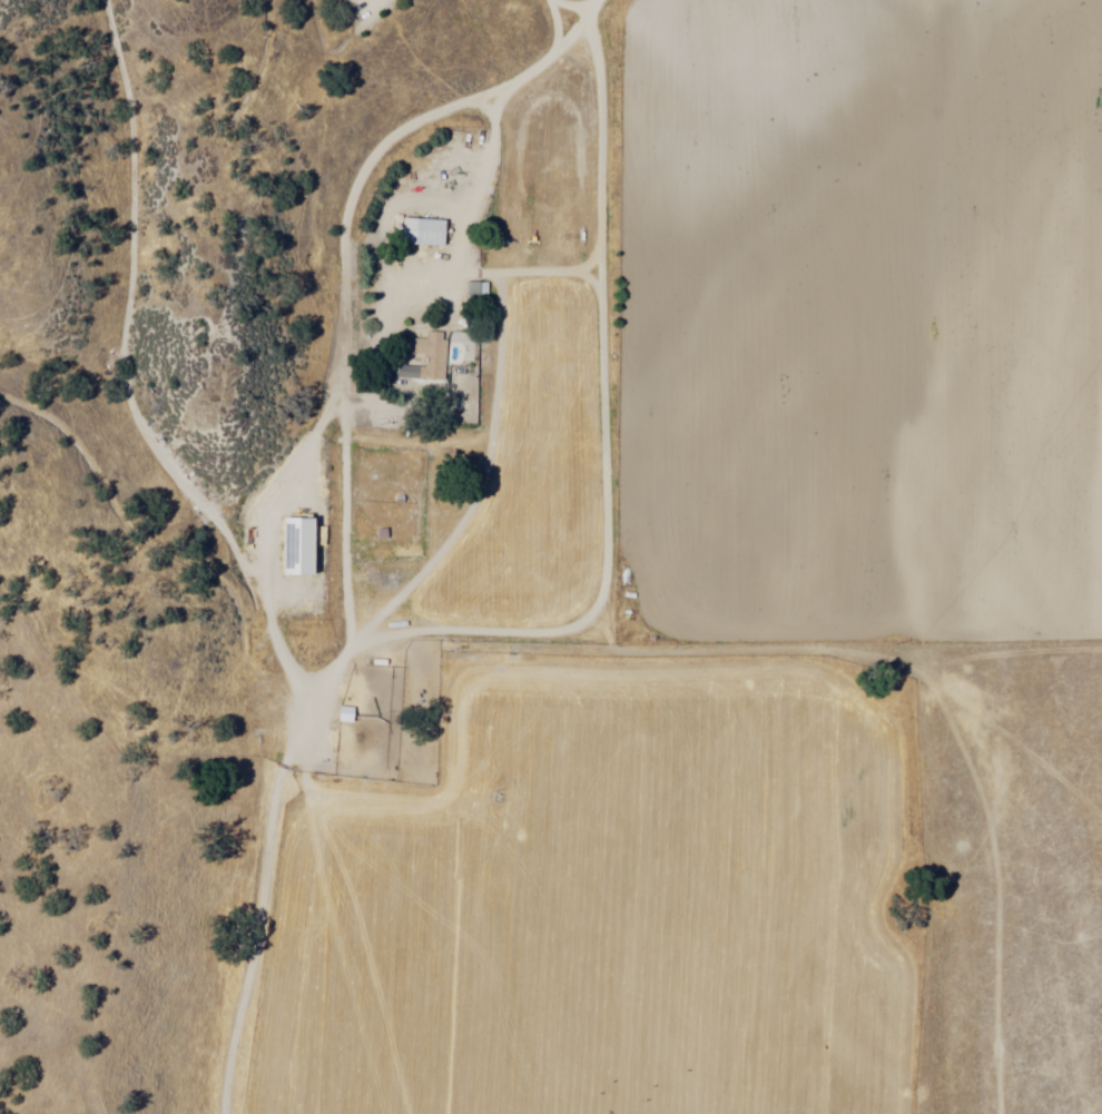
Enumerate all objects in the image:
building: (422, 233)
building: (426, 358)
road: (304, 520)
building: (294, 546)

